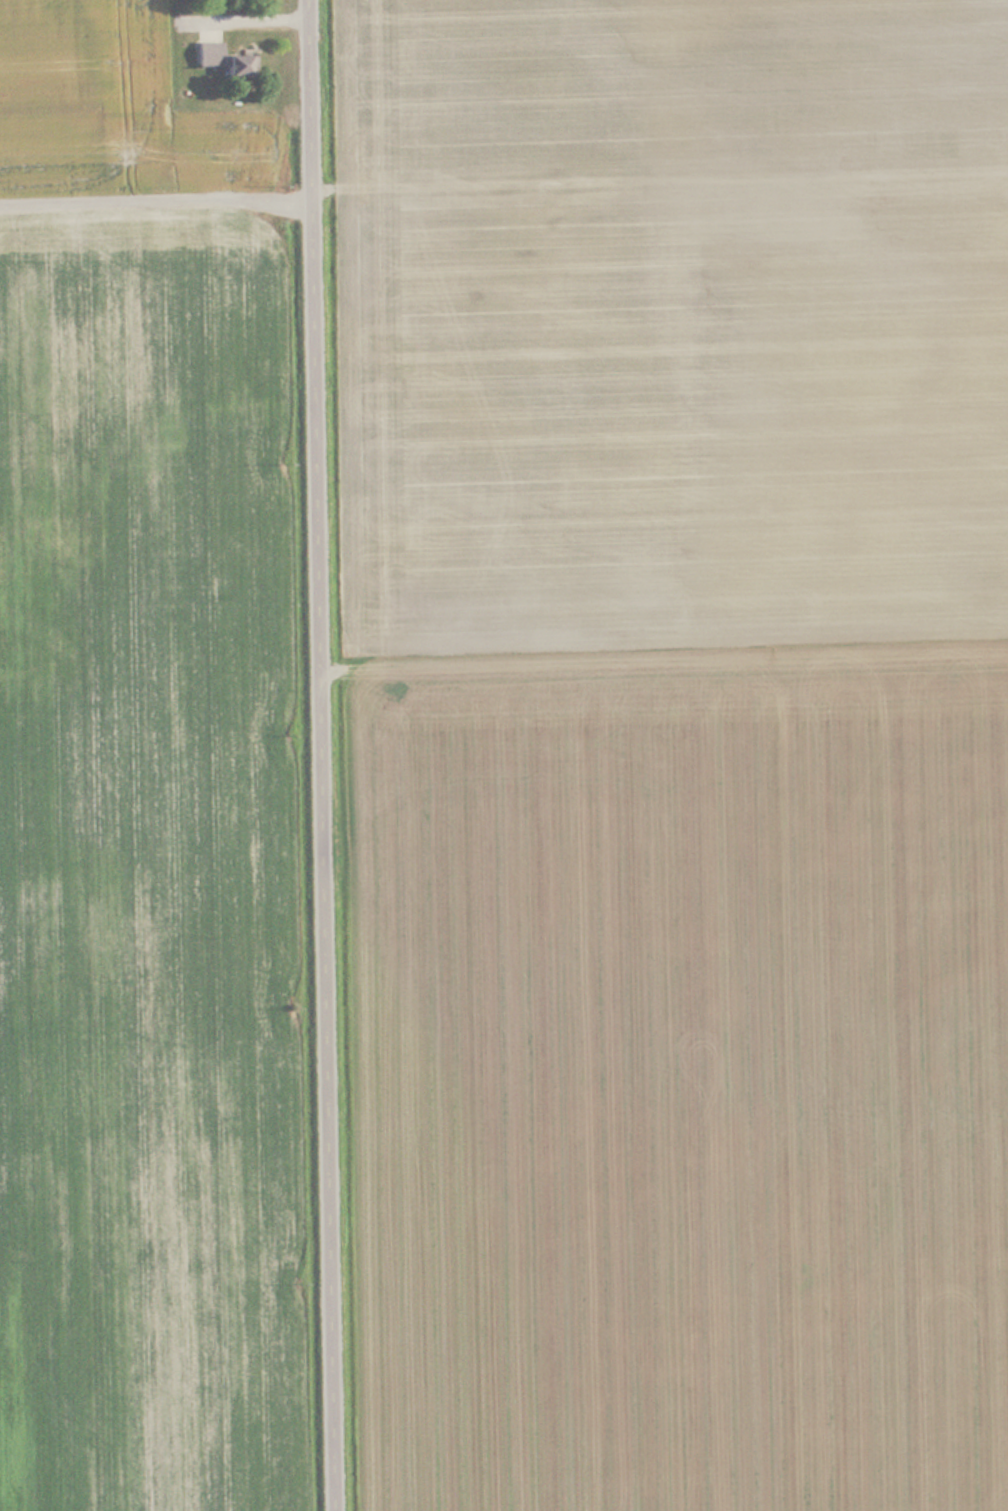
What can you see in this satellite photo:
building: (223, 58)
road: (159, 191)
road: (329, 755)

